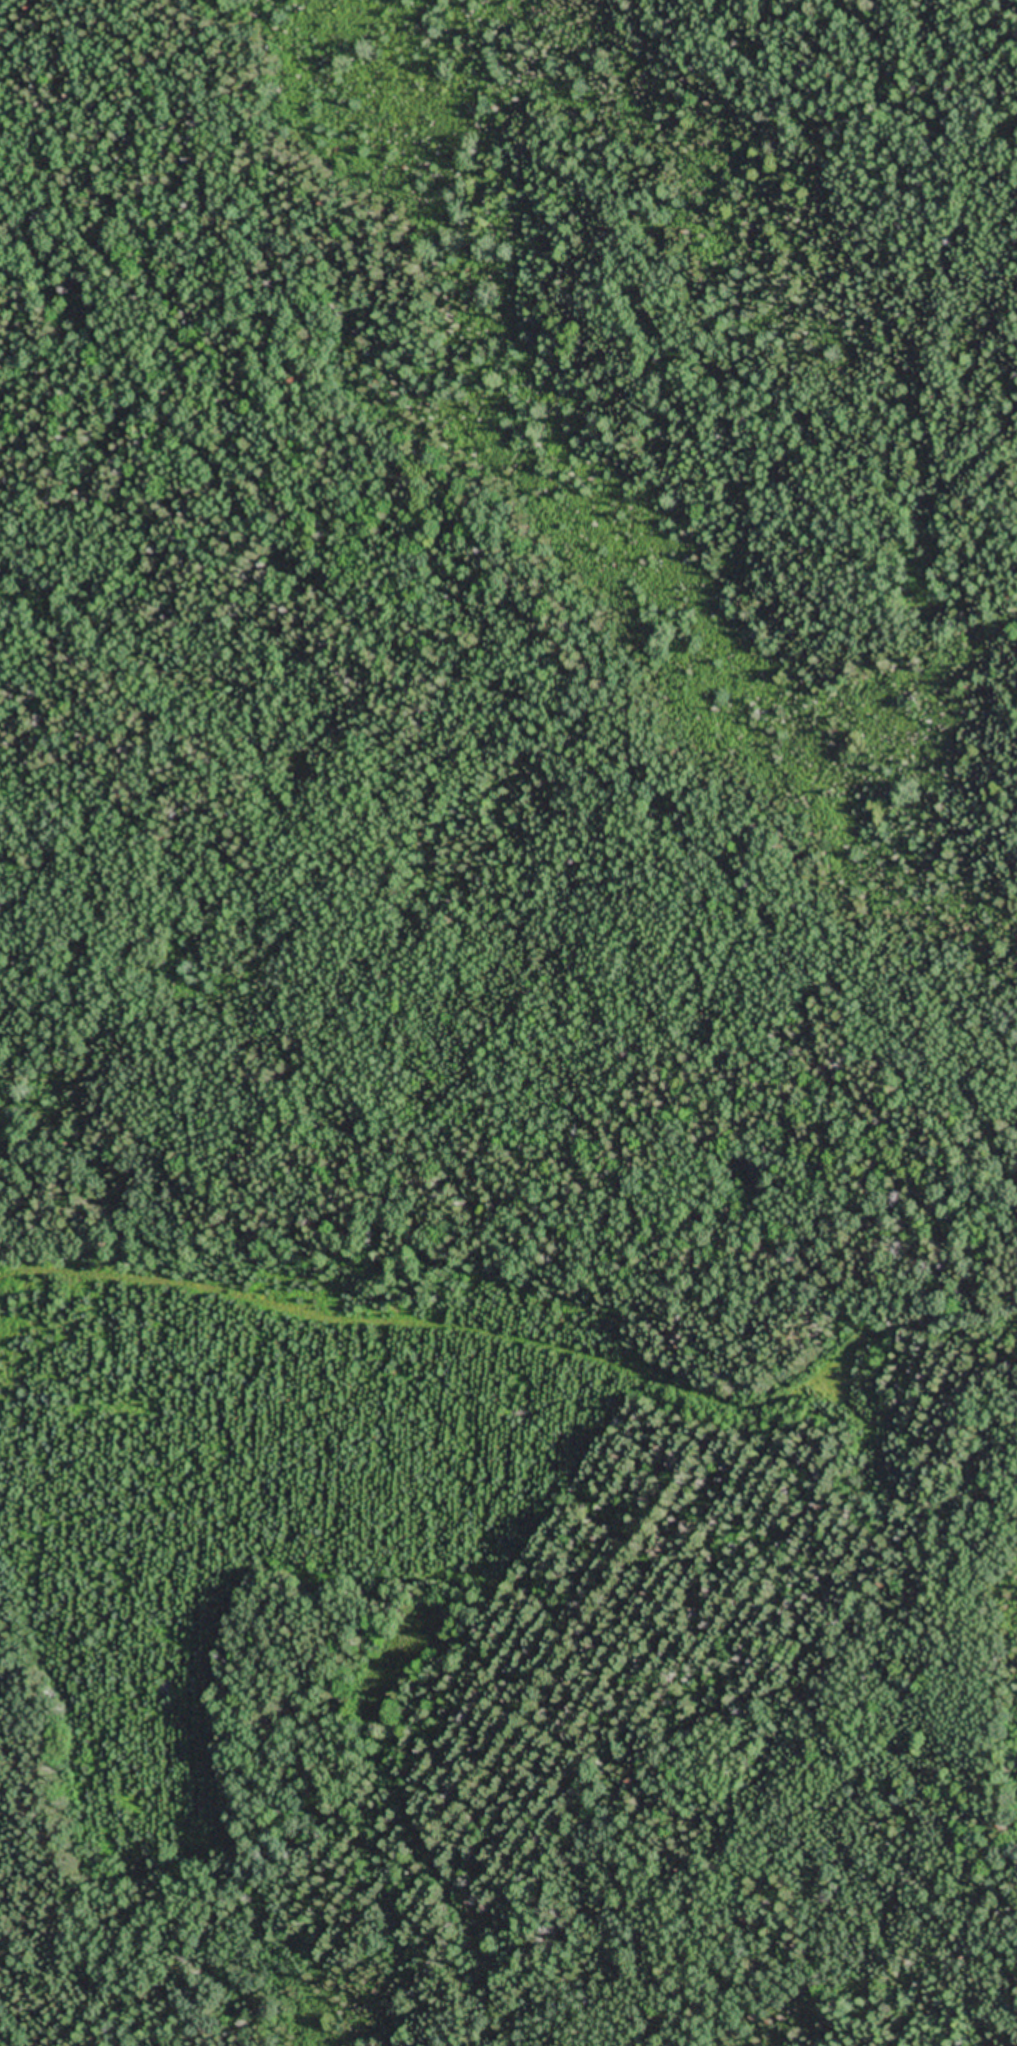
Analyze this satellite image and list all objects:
road: (963, 20)
road: (507, 629)
road: (510, 1340)

